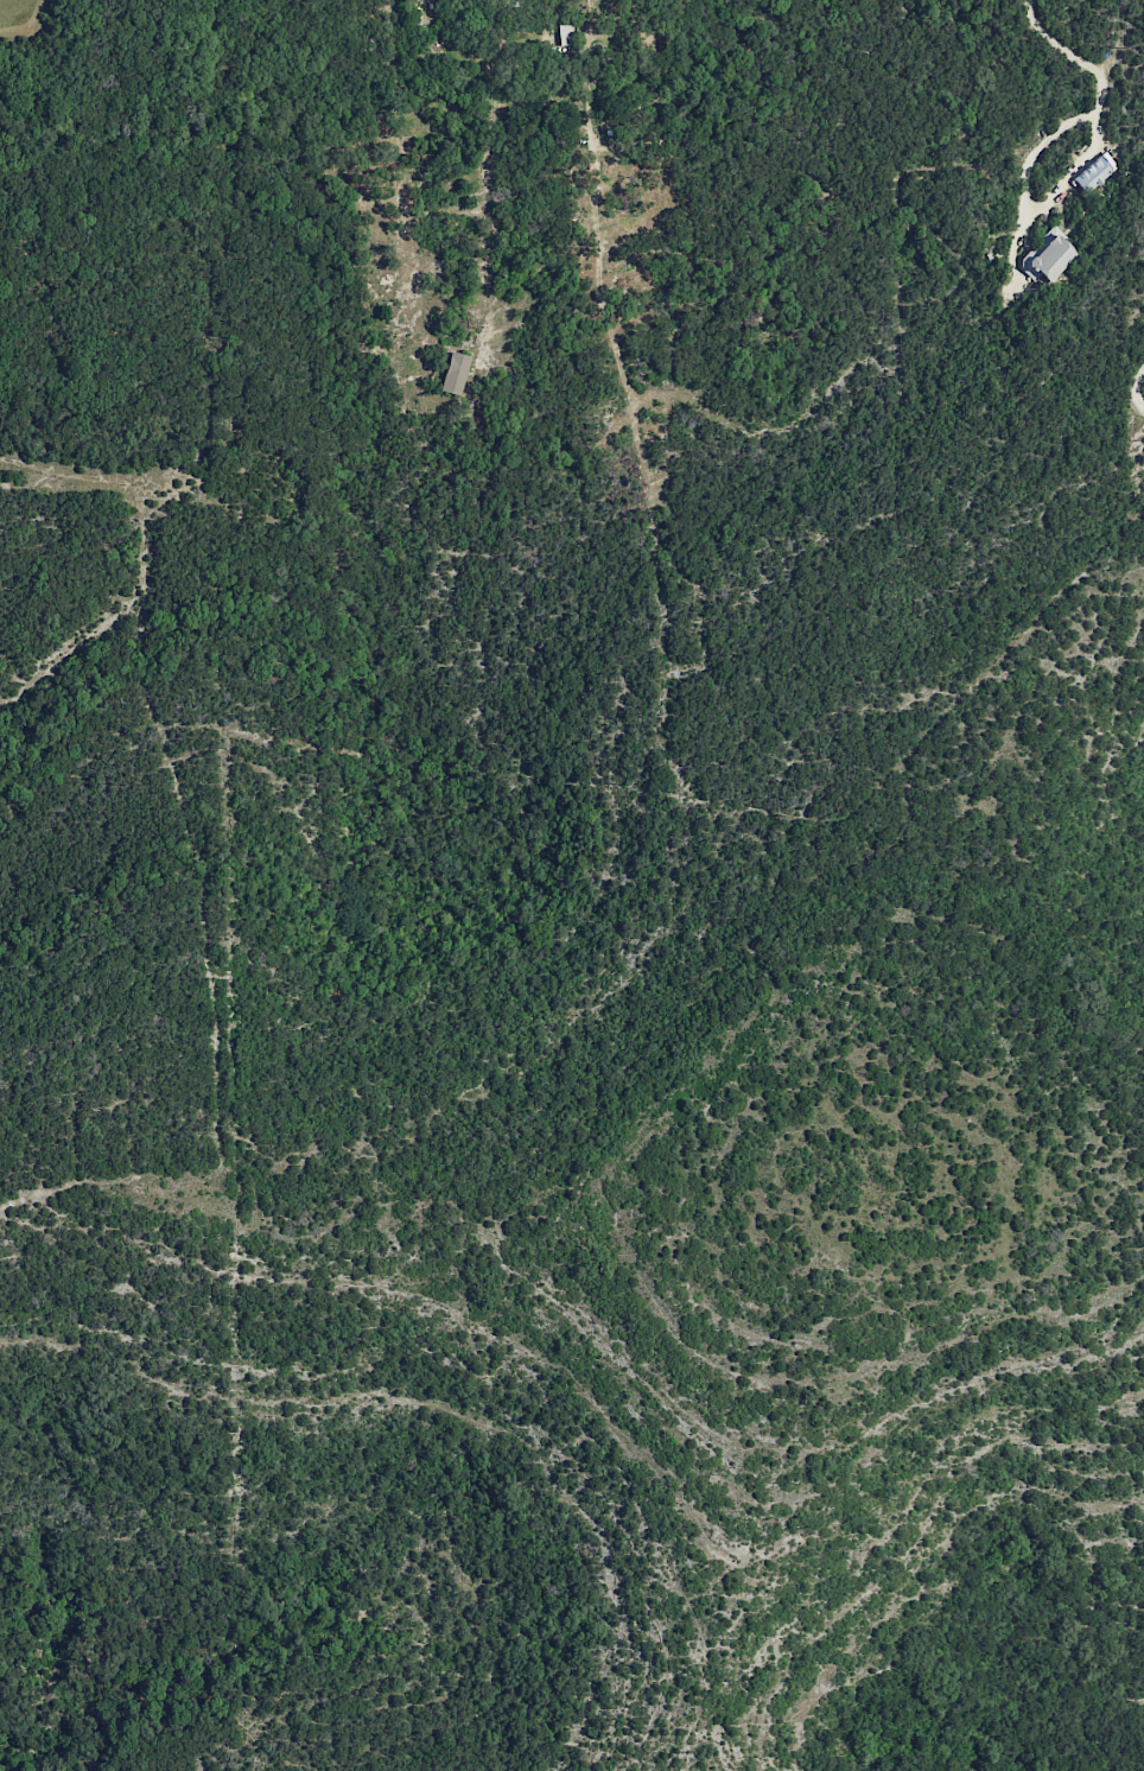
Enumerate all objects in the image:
building: (565, 32)
road: (1098, 74)
park: (155, 102)
building: (1093, 174)
building: (1047, 256)
building: (455, 373)
road: (1135, 387)
road: (95, 476)
road: (101, 1180)

